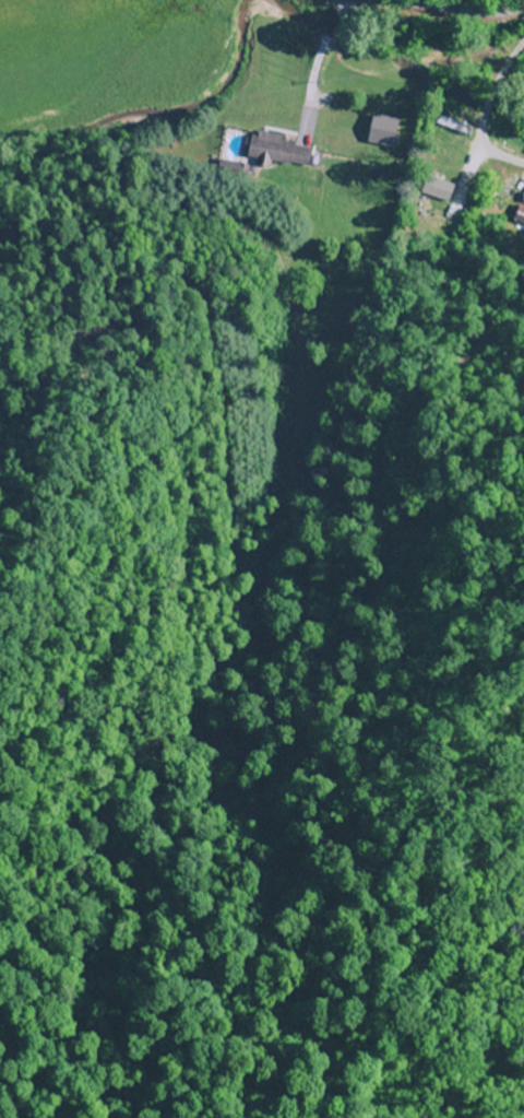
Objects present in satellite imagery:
road: (448, 10)
road: (444, 146)
building: (277, 151)
building: (523, 200)
building: (520, 213)

